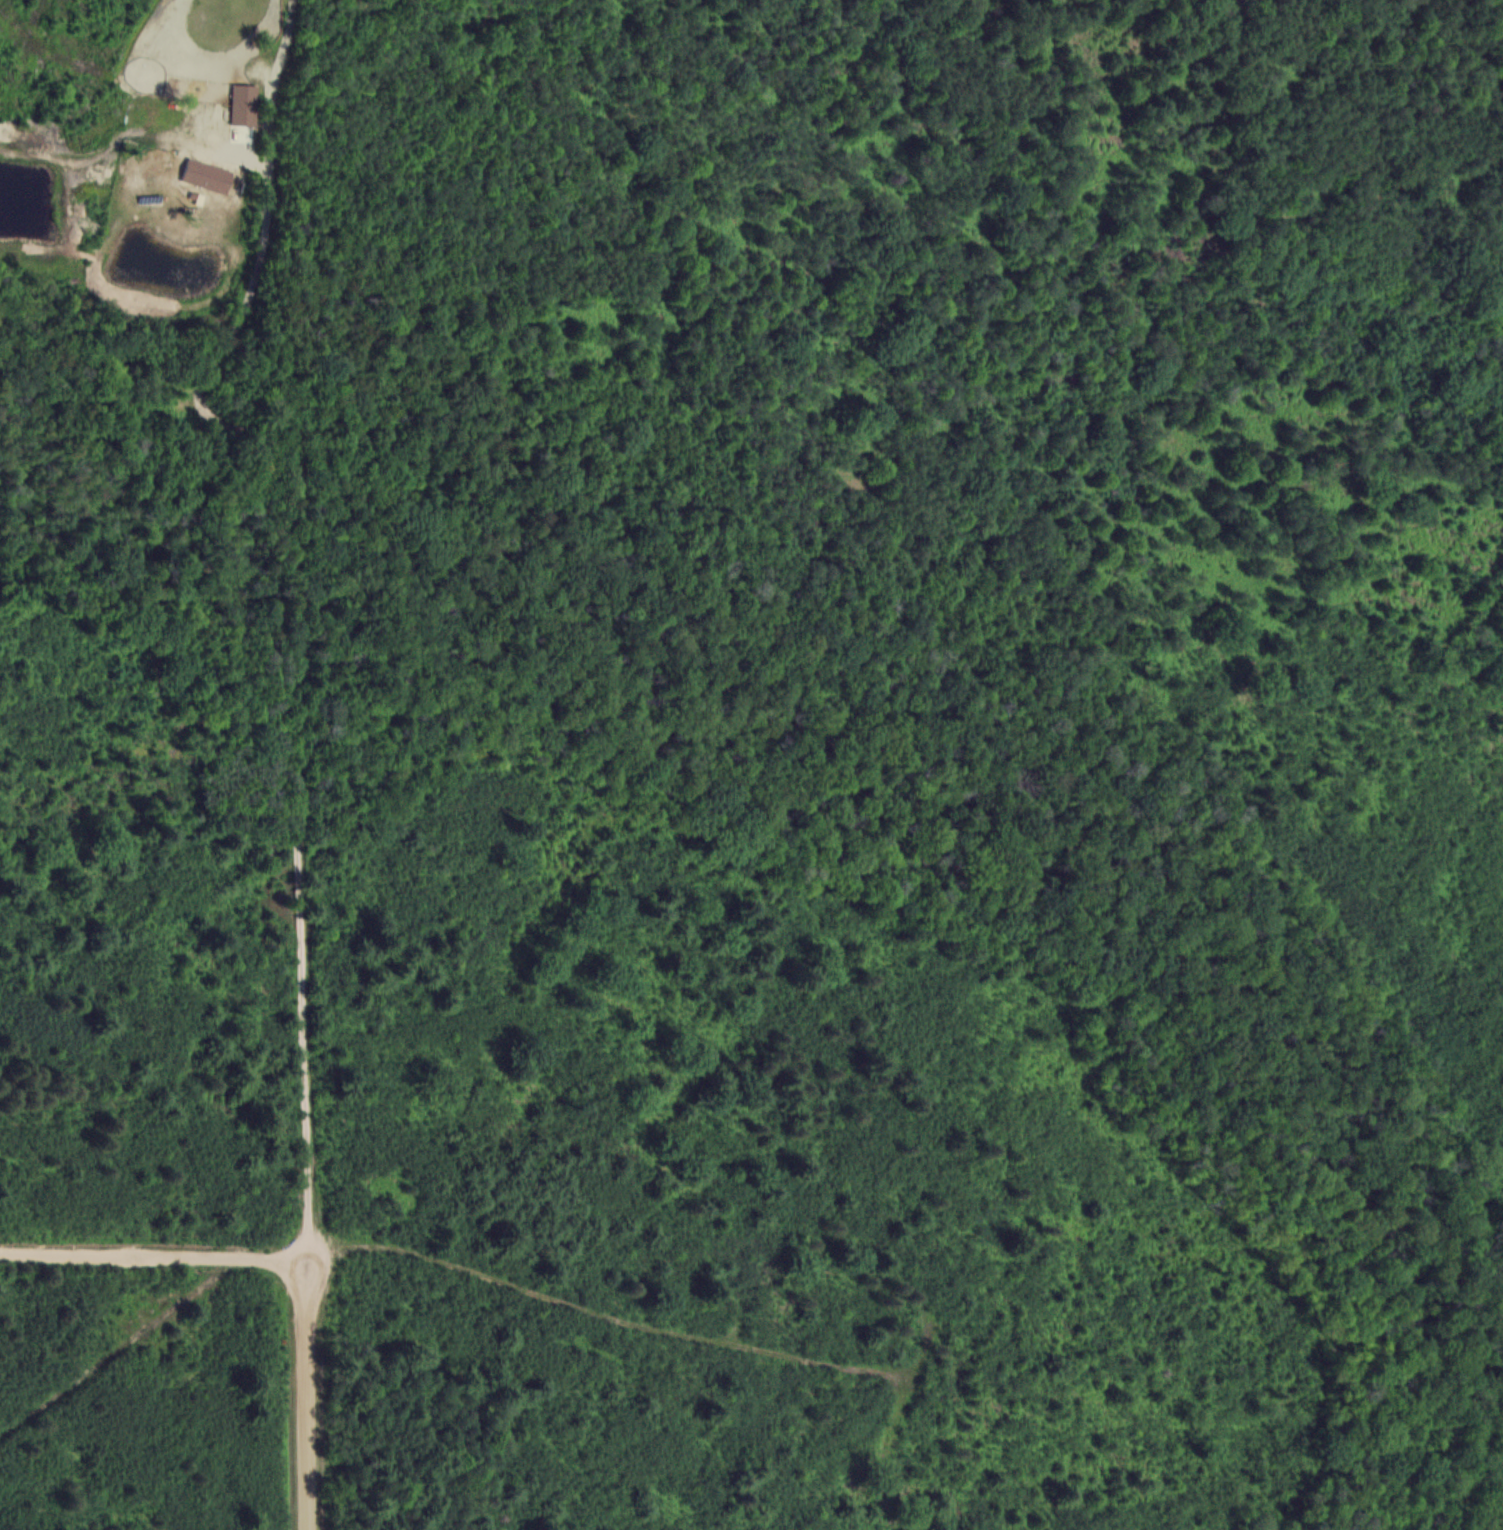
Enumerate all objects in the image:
road: (156, 1255)
road: (310, 1398)

